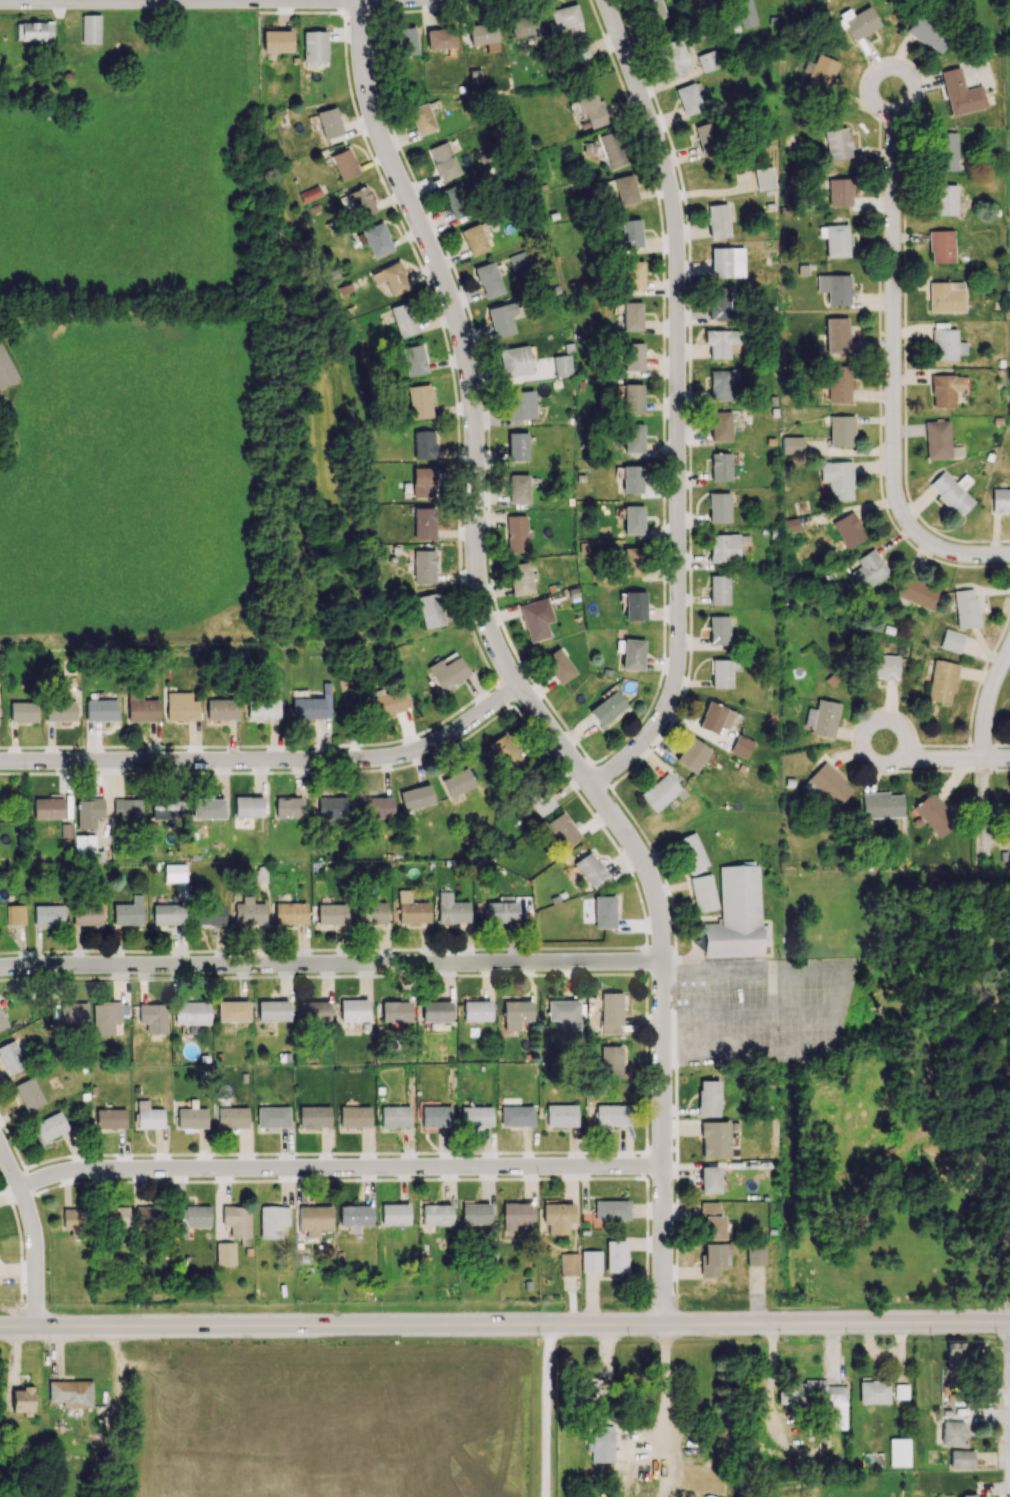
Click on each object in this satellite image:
road: (227, 2)
building: (653, 10)
building: (745, 13)
building: (564, 16)
building: (860, 22)
building: (523, 25)
building: (574, 28)
building: (90, 29)
building: (36, 31)
building: (928, 34)
building: (483, 35)
building: (440, 39)
building: (276, 41)
building: (405, 41)
building: (314, 46)
building: (579, 51)
building: (673, 58)
building: (707, 60)
building: (818, 72)
building: (960, 93)
building: (688, 98)
building: (591, 110)
building: (421, 119)
building: (328, 122)
building: (705, 133)
building: (837, 144)
building: (606, 148)
building: (946, 151)
building: (443, 161)
building: (344, 164)
building: (764, 178)
building: (624, 189)
building: (839, 191)
building: (310, 194)
building: (457, 200)
building: (944, 200)
building: (361, 202)
building: (717, 220)
building: (628, 234)
building: (376, 239)
building: (474, 239)
building: (836, 240)
building: (941, 246)
building: (727, 262)
building: (632, 275)
building: (488, 279)
building: (834, 288)
building: (945, 296)
building: (719, 304)
building: (631, 315)
building: (403, 319)
building: (500, 320)
building: (836, 336)
building: (722, 342)
building: (946, 344)
building: (632, 356)
building: (413, 360)
building: (515, 361)
road: (894, 363)
building: (562, 365)
building: (5, 369)
building: (838, 383)
building: (720, 384)
building: (944, 390)
building: (632, 397)
building: (419, 401)
building: (520, 405)
road: (680, 405)
building: (720, 426)
building: (841, 430)
building: (633, 438)
building: (939, 441)
building: (423, 444)
building: (792, 444)
building: (517, 446)
building: (720, 466)
building: (632, 479)
building: (837, 479)
building: (420, 483)
building: (518, 489)
building: (951, 492)
building: (1000, 500)
building: (633, 519)
building: (423, 522)
building: (790, 525)
building: (848, 530)
building: (515, 534)
building: (724, 548)
building: (630, 561)
building: (424, 566)
building: (869, 569)
building: (519, 579)
building: (718, 589)
building: (916, 593)
building: (634, 605)
building: (965, 608)
building: (430, 610)
building: (536, 618)
building: (718, 631)
building: (952, 640)
building: (632, 654)
building: (557, 666)
building: (882, 666)
road: (510, 669)
building: (447, 673)
building: (721, 673)
building: (942, 681)
building: (388, 701)
building: (312, 705)
building: (180, 706)
building: (99, 708)
building: (608, 708)
building: (140, 709)
building: (221, 709)
building: (262, 709)
building: (60, 710)
building: (22, 711)
building: (715, 717)
building: (821, 718)
building: (741, 746)
building: (504, 752)
road: (983, 754)
building: (692, 755)
road: (942, 759)
road: (271, 763)
building: (457, 782)
building: (827, 784)
building: (659, 791)
building: (415, 797)
building: (538, 798)
building: (881, 804)
building: (248, 806)
building: (288, 807)
building: (331, 807)
building: (376, 807)
building: (47, 808)
building: (126, 808)
building: (208, 808)
building: (167, 810)
building: (88, 812)
building: (934, 813)
building: (562, 830)
building: (85, 846)
building: (690, 853)
building: (589, 869)
building: (703, 893)
building: (451, 909)
building: (501, 910)
building: (128, 912)
building: (249, 912)
building: (371, 912)
building: (413, 912)
building: (604, 912)
building: (290, 913)
building: (15, 914)
building: (48, 914)
building: (86, 914)
building: (167, 914)
building: (332, 914)
building: (208, 915)
building: (736, 915)
road: (331, 965)
road: (837, 1003)
building: (272, 1010)
building: (353, 1010)
building: (232, 1011)
building: (313, 1011)
building: (395, 1011)
building: (435, 1011)
building: (476, 1011)
road: (750, 1011)
building: (564, 1012)
building: (611, 1012)
building: (72, 1013)
building: (191, 1013)
building: (515, 1015)
building: (105, 1016)
building: (152, 1017)
building: (1, 1021)
building: (11, 1057)
building: (611, 1058)
building: (28, 1094)
building: (708, 1098)
building: (475, 1115)
building: (516, 1115)
building: (561, 1115)
building: (611, 1115)
building: (148, 1116)
building: (272, 1116)
building: (314, 1116)
building: (354, 1116)
building: (395, 1116)
building: (435, 1116)
building: (231, 1117)
building: (110, 1118)
building: (191, 1118)
building: (50, 1126)
building: (715, 1139)
road: (341, 1167)
building: (709, 1179)
building: (611, 1210)
building: (475, 1213)
building: (394, 1214)
building: (435, 1214)
building: (146, 1215)
building: (355, 1215)
building: (558, 1216)
building: (115, 1217)
building: (515, 1217)
building: (190, 1219)
building: (314, 1219)
building: (72, 1220)
building: (236, 1220)
building: (272, 1220)
building: (713, 1222)
road: (33, 1228)
building: (224, 1253)
building: (489, 1254)
building: (755, 1254)
building: (615, 1256)
building: (714, 1258)
building: (590, 1261)
building: (569, 1264)
road: (504, 1322)
building: (960, 1353)
building: (585, 1389)
building: (874, 1391)
building: (71, 1393)
building: (817, 1399)
building: (23, 1401)
road: (549, 1409)
building: (952, 1433)
building: (601, 1444)
road: (640, 1446)
building: (899, 1452)
building: (960, 1459)
building: (973, 1496)

